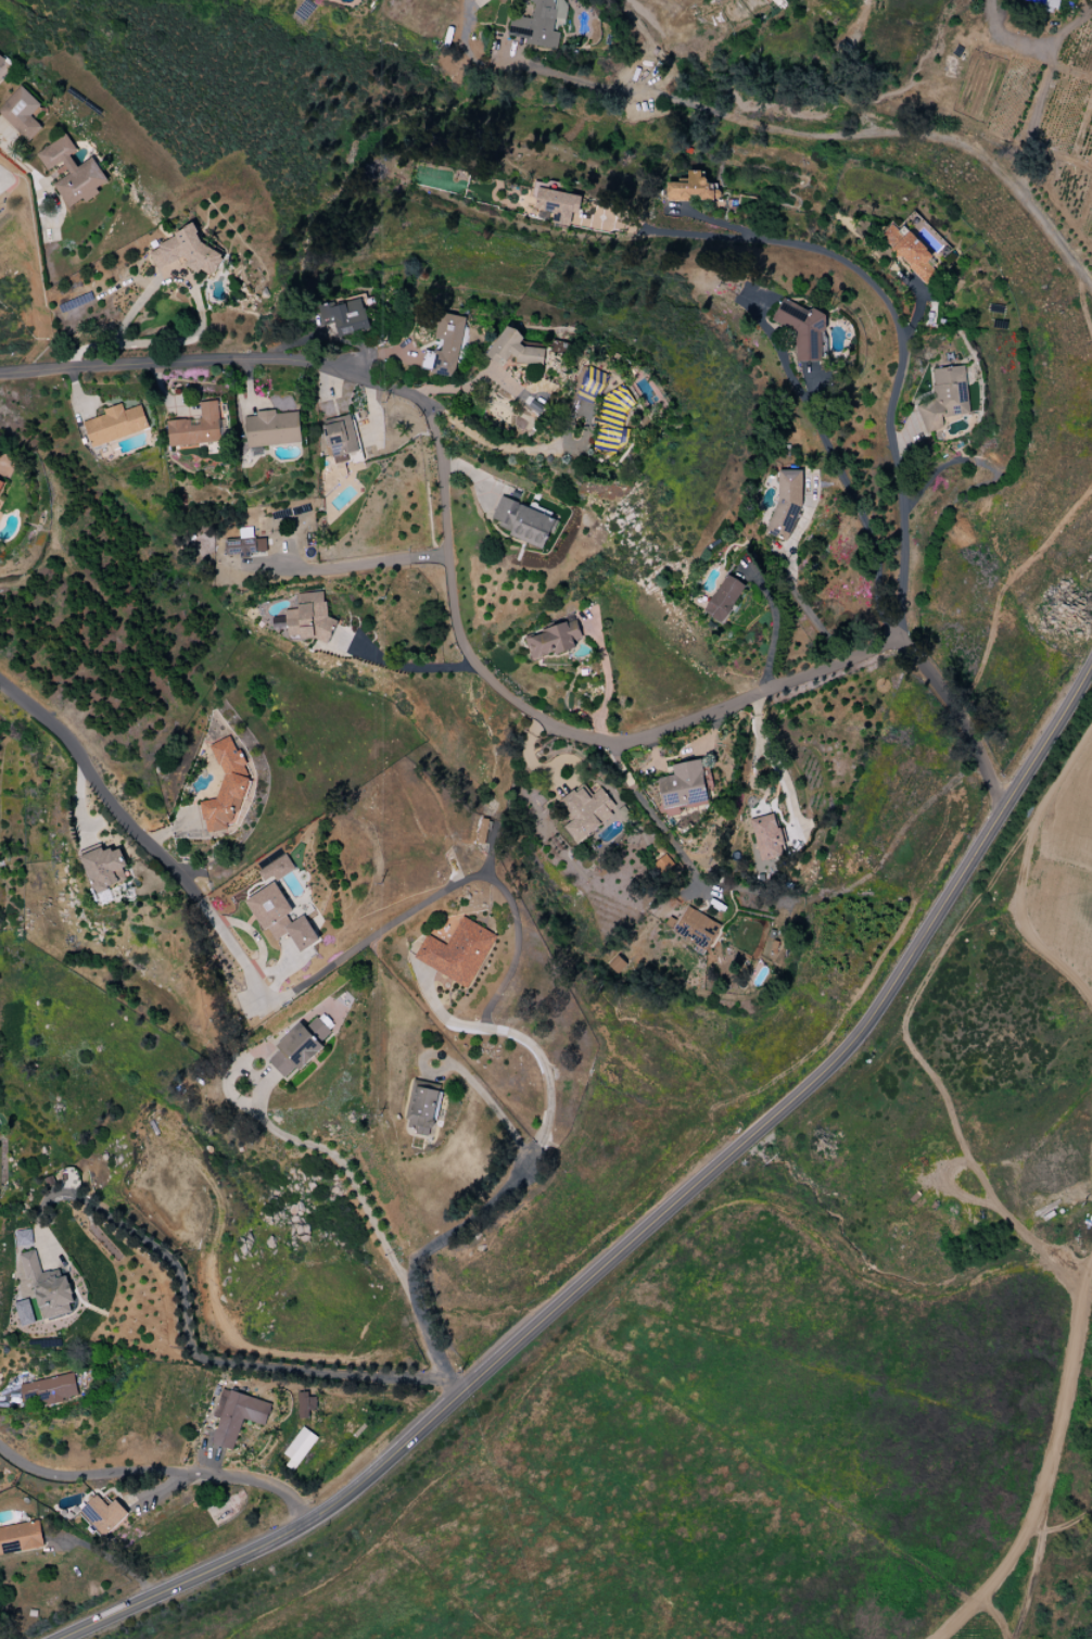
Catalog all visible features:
building: (775, 2)
building: (1044, 3)
building: (560, 11)
building: (535, 25)
building: (1, 61)
building: (21, 113)
road: (779, 130)
building: (72, 172)
building: (691, 189)
building: (556, 203)
road: (691, 236)
building: (911, 252)
building: (186, 253)
road: (180, 279)
building: (345, 315)
building: (802, 328)
building: (444, 345)
building: (517, 349)
building: (591, 386)
road: (891, 395)
building: (945, 398)
building: (611, 424)
building: (115, 425)
building: (196, 427)
building: (271, 429)
building: (341, 438)
road: (499, 443)
building: (0, 481)
building: (786, 504)
road: (859, 510)
building: (523, 522)
building: (244, 546)
road: (358, 565)
road: (795, 589)
building: (724, 598)
building: (306, 618)
road: (772, 629)
building: (551, 640)
road: (466, 648)
road: (406, 666)
road: (776, 766)
building: (683, 785)
building: (226, 787)
road: (98, 791)
building: (586, 811)
road: (656, 818)
building: (483, 831)
building: (766, 837)
crop: (1065, 865)
building: (663, 866)
building: (104, 868)
road: (441, 891)
building: (279, 907)
building: (694, 929)
road: (227, 943)
building: (457, 951)
road: (516, 1035)
building: (299, 1046)
road: (485, 1097)
building: (421, 1107)
road: (347, 1177)
road: (648, 1226)
building: (23, 1237)
road: (428, 1251)
building: (47, 1287)
building: (22, 1308)
road: (188, 1337)
building: (48, 1390)
building: (305, 1404)
building: (236, 1416)
building: (299, 1448)
road: (157, 1471)
building: (103, 1514)
building: (20, 1537)
park: (1072, 1575)

